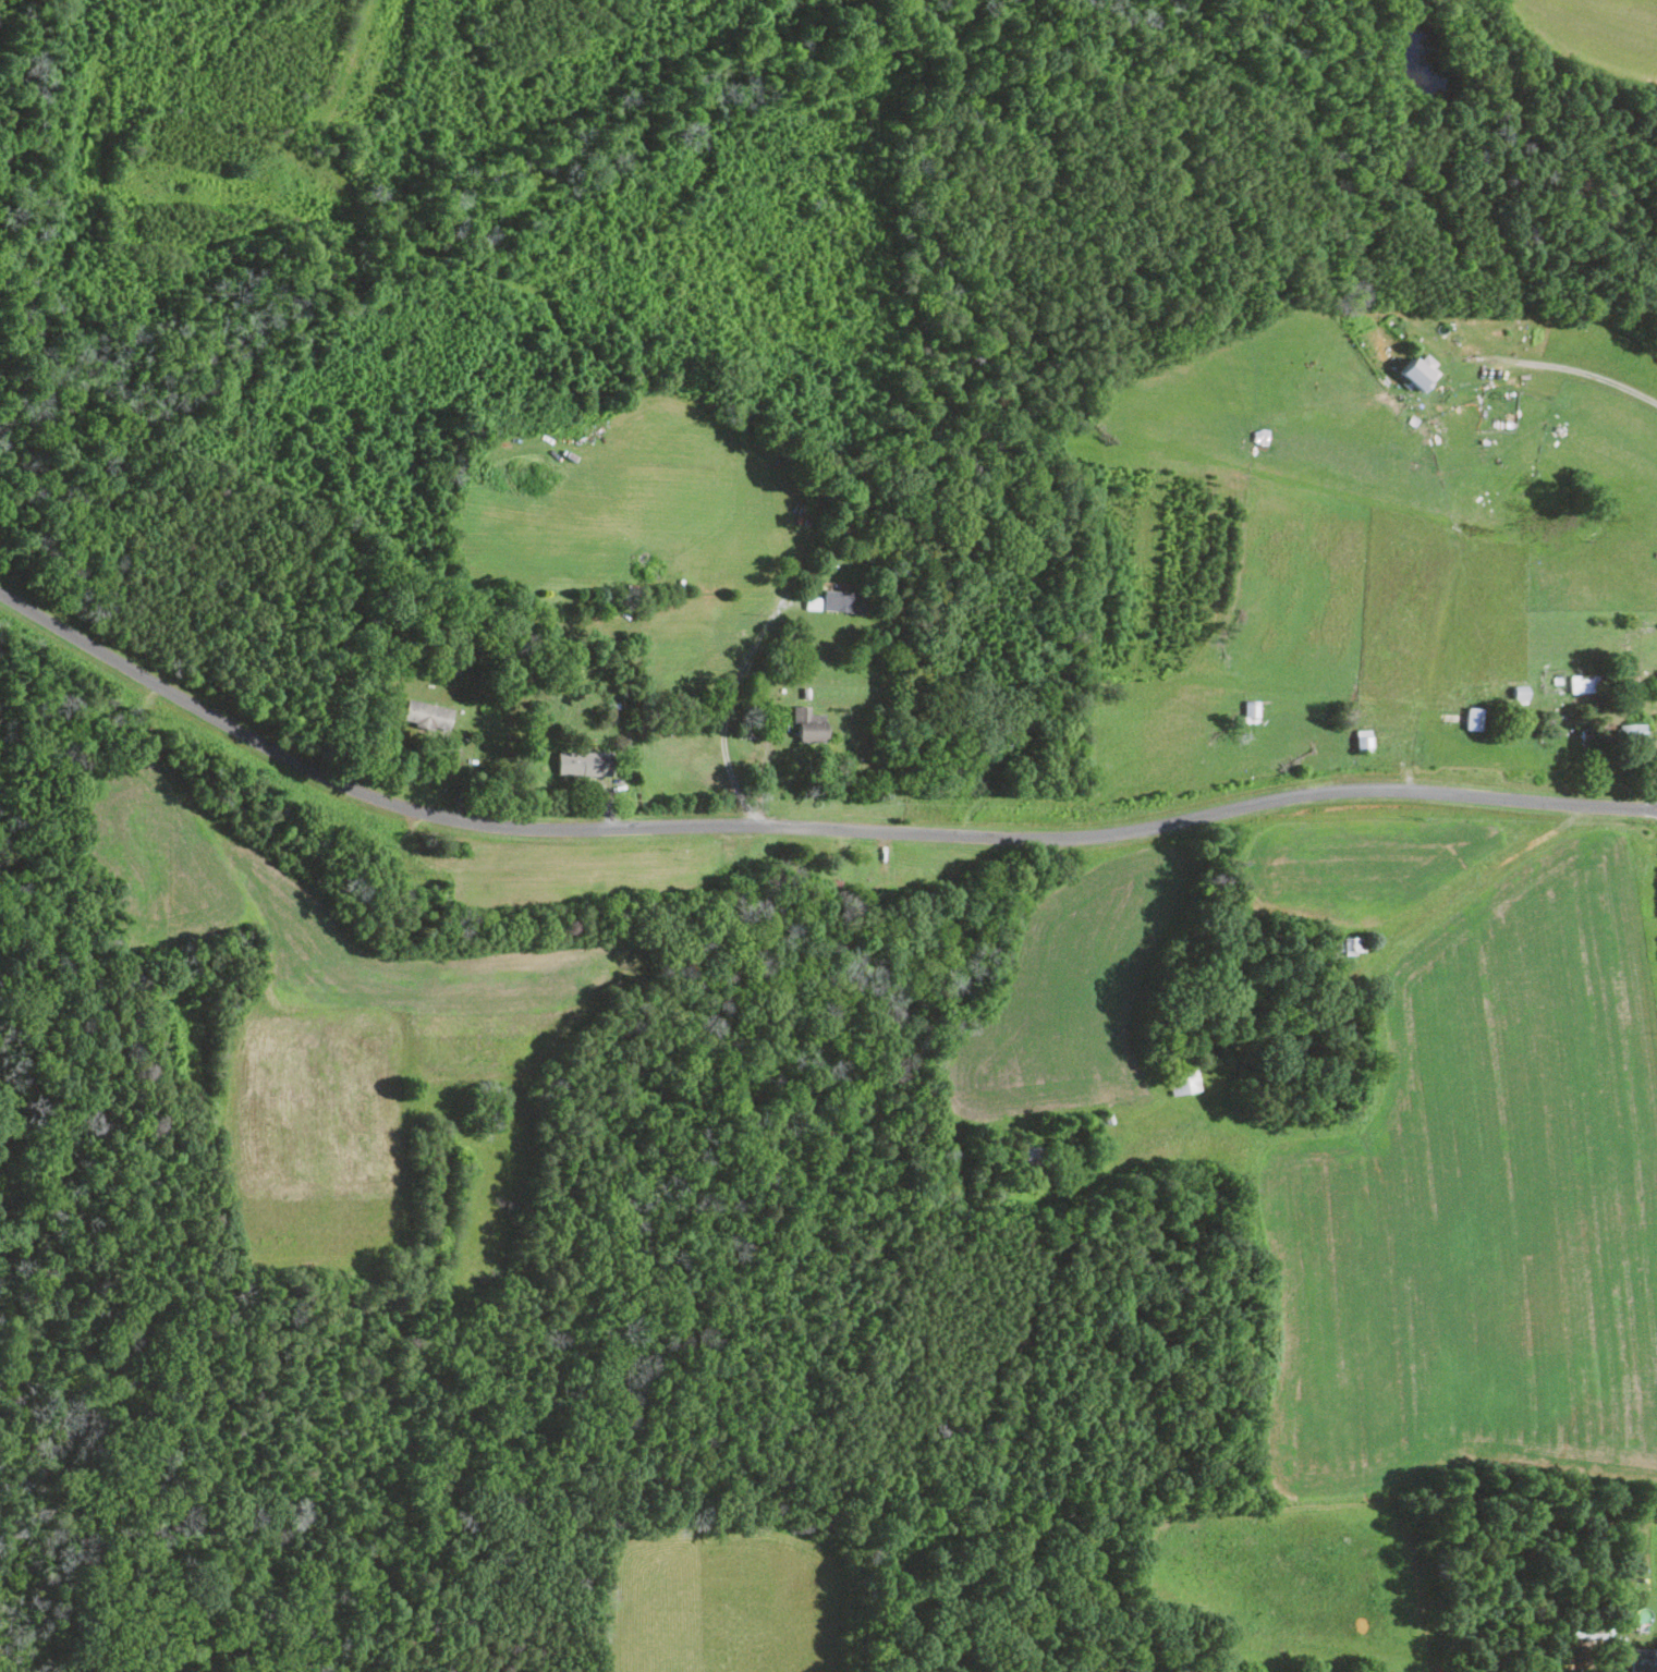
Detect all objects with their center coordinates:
building: (1421, 368)
road: (1584, 371)
building: (844, 600)
building: (1585, 683)
road: (727, 710)
building: (426, 713)
building: (809, 723)
building: (1634, 730)
building: (1363, 739)
road: (764, 761)
building: (582, 762)
road: (803, 827)
building: (1644, 1660)

